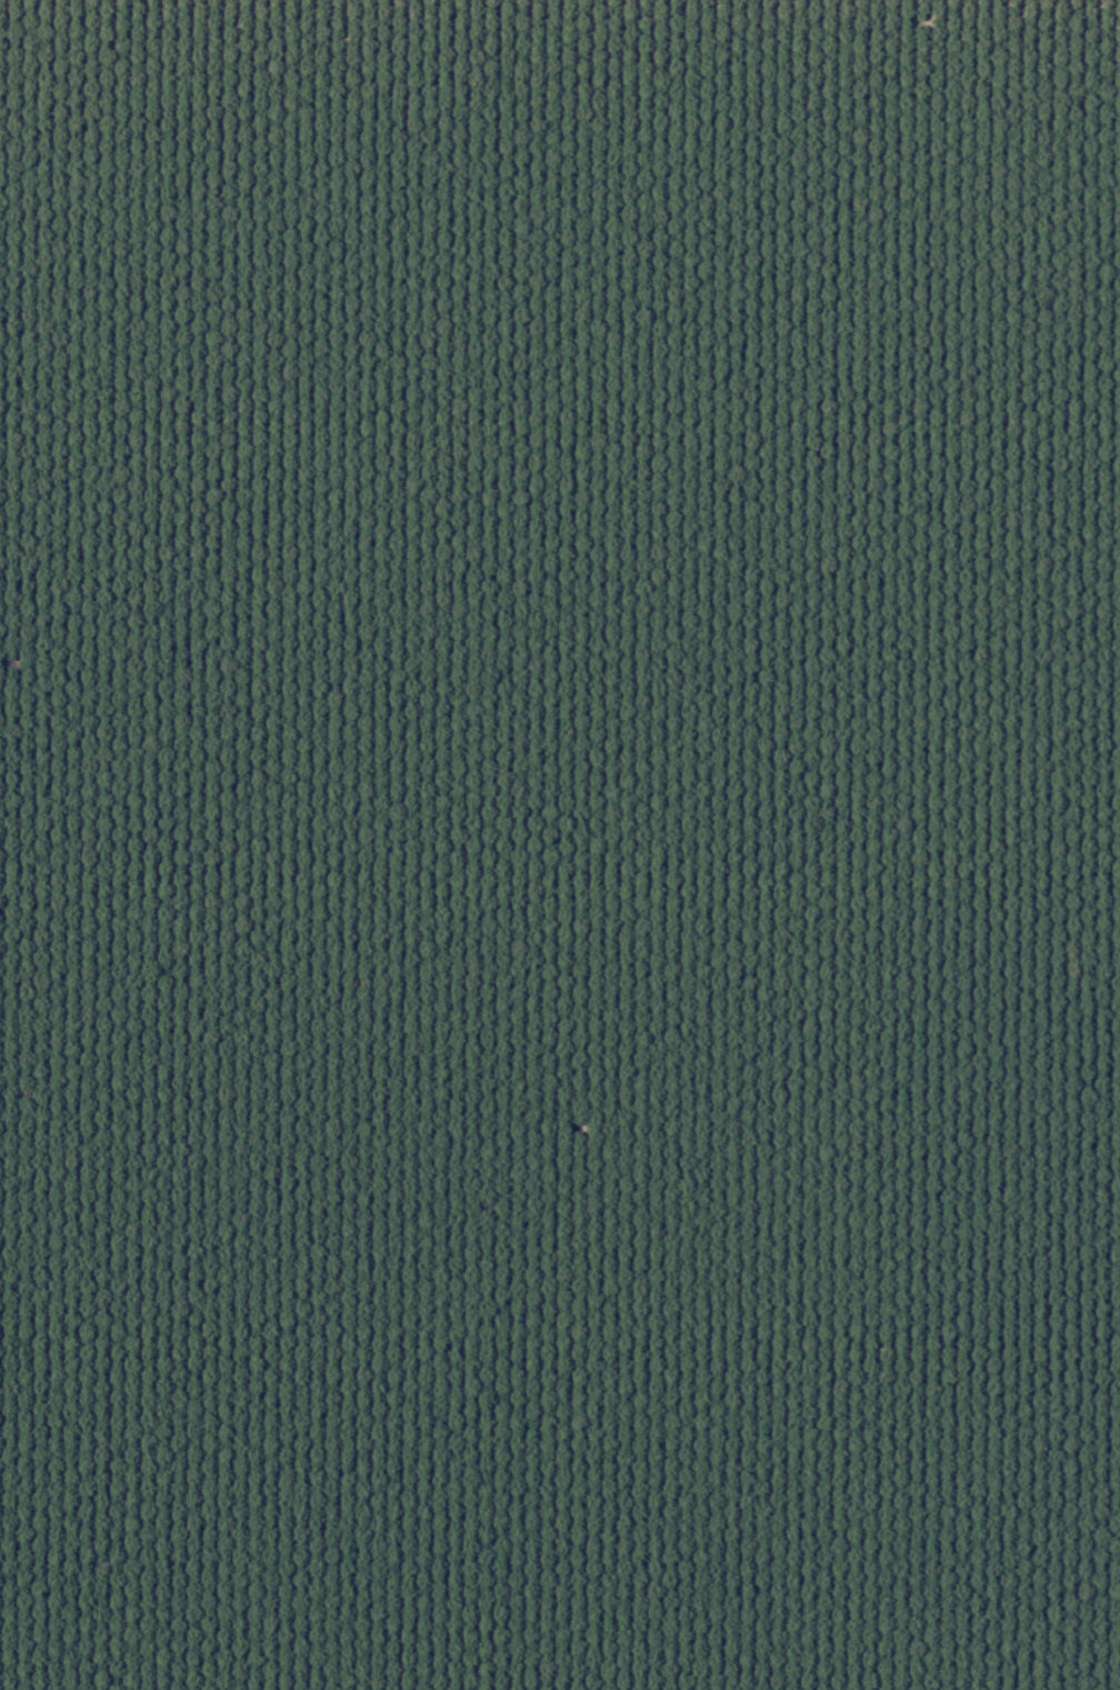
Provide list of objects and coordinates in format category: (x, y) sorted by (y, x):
crop: (560, 844)

